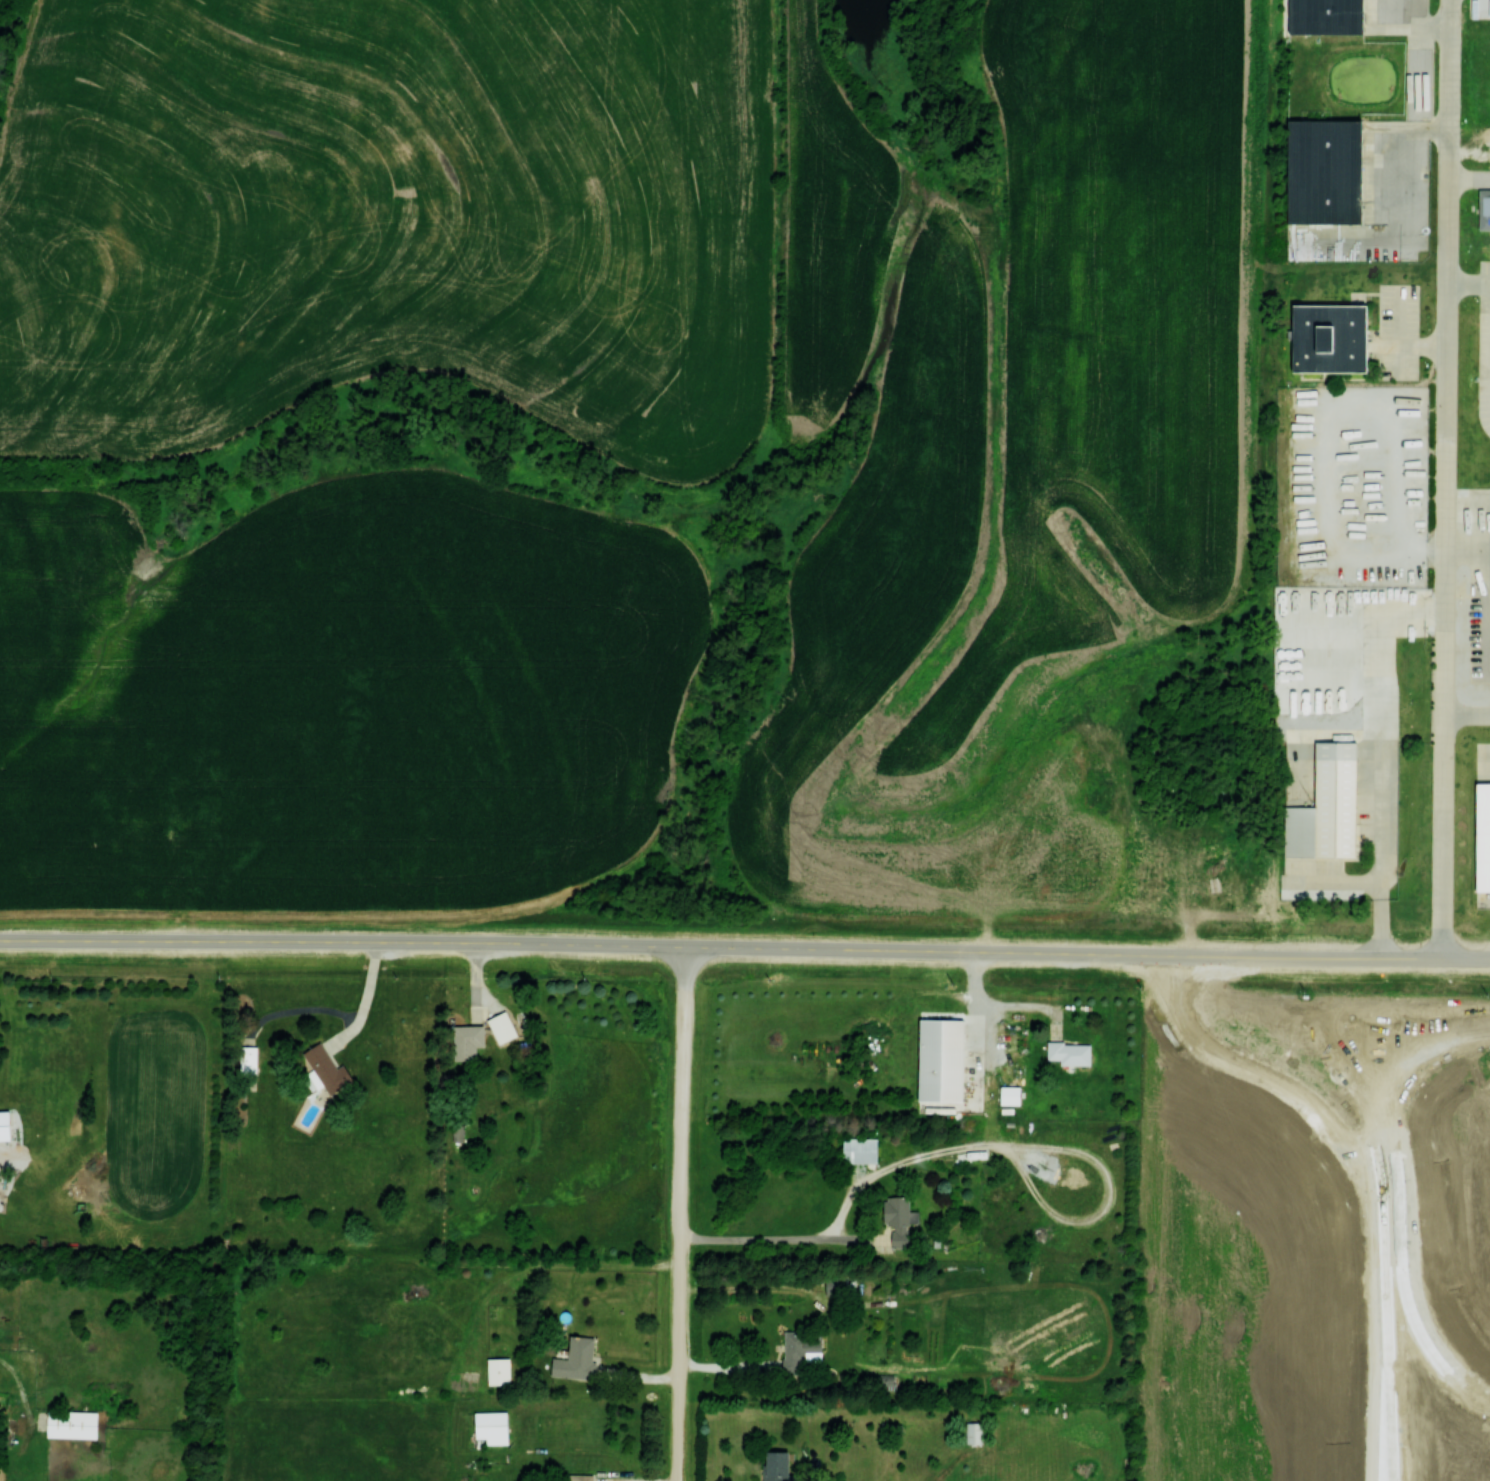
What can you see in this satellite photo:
building: (1325, 16)
building: (1323, 171)
road: (1468, 177)
building: (1484, 209)
road: (1445, 438)
road: (1286, 880)
road: (1413, 915)
road: (1431, 923)
road: (1417, 934)
road: (575, 945)
road: (1452, 971)
road: (1249, 974)
road: (1238, 989)
road: (1463, 1004)
building: (502, 1027)
road: (1464, 1034)
building: (469, 1035)
road: (1434, 1051)
building: (1070, 1052)
building: (248, 1059)
building: (943, 1059)
building: (326, 1070)
building: (1011, 1094)
building: (5, 1125)
building: (454, 1136)
building: (860, 1149)
road: (1396, 1165)
road: (681, 1213)
building: (897, 1219)
road: (781, 1240)
road: (1382, 1267)
road: (1428, 1341)
building: (801, 1350)
building: (580, 1357)
building: (499, 1371)
building: (73, 1423)
building: (492, 1427)
building: (974, 1433)
building: (777, 1465)
building: (580, 1477)

